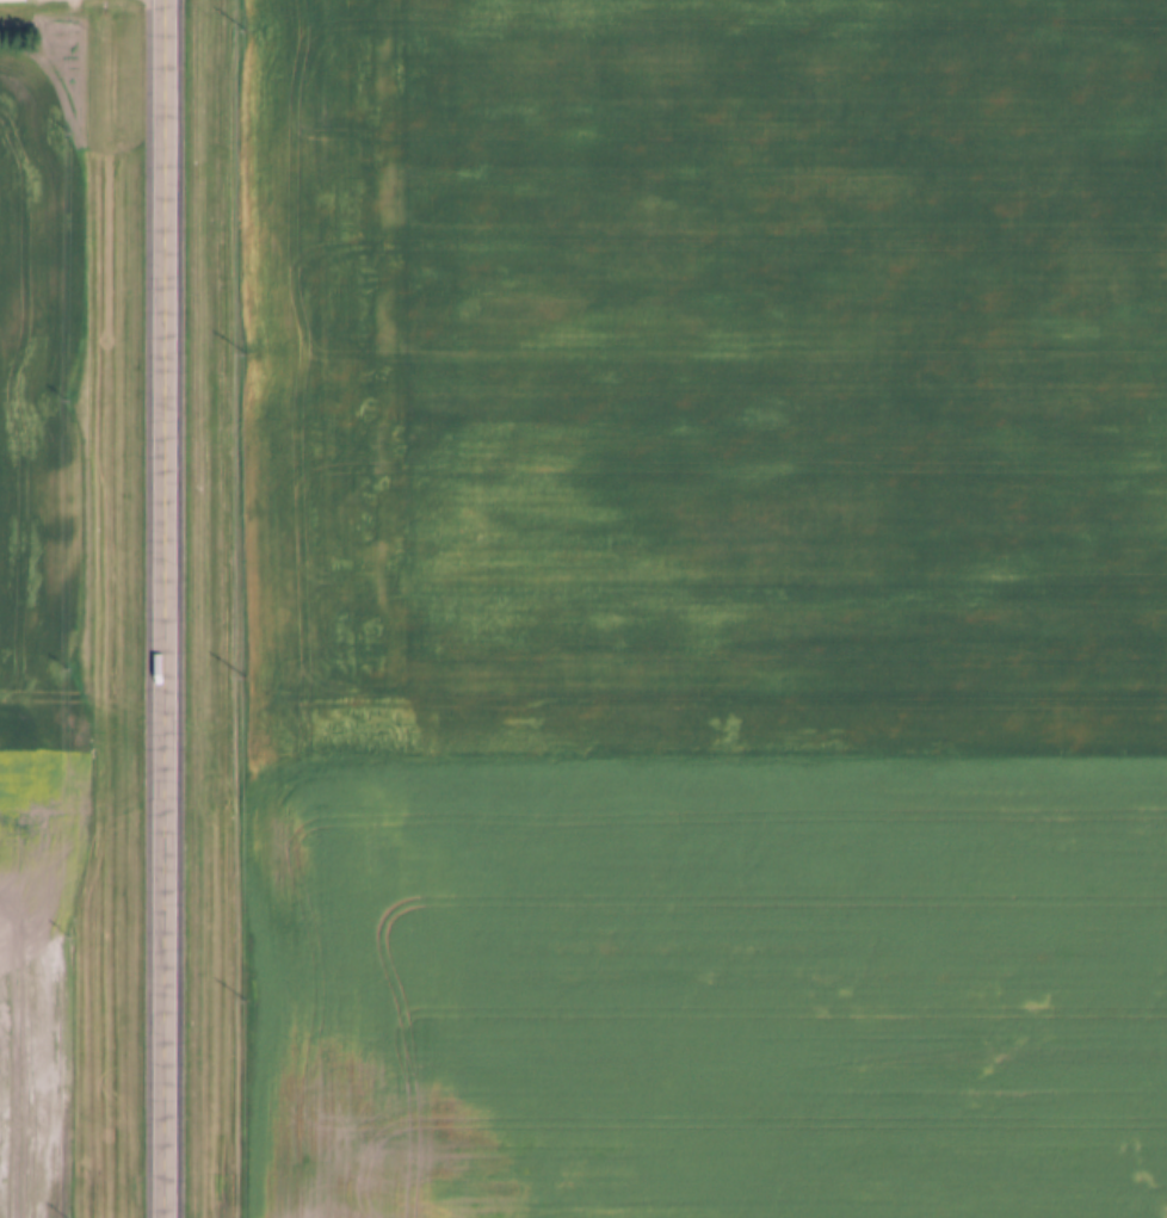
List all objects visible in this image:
building: (11, 1)
road: (162, 608)

